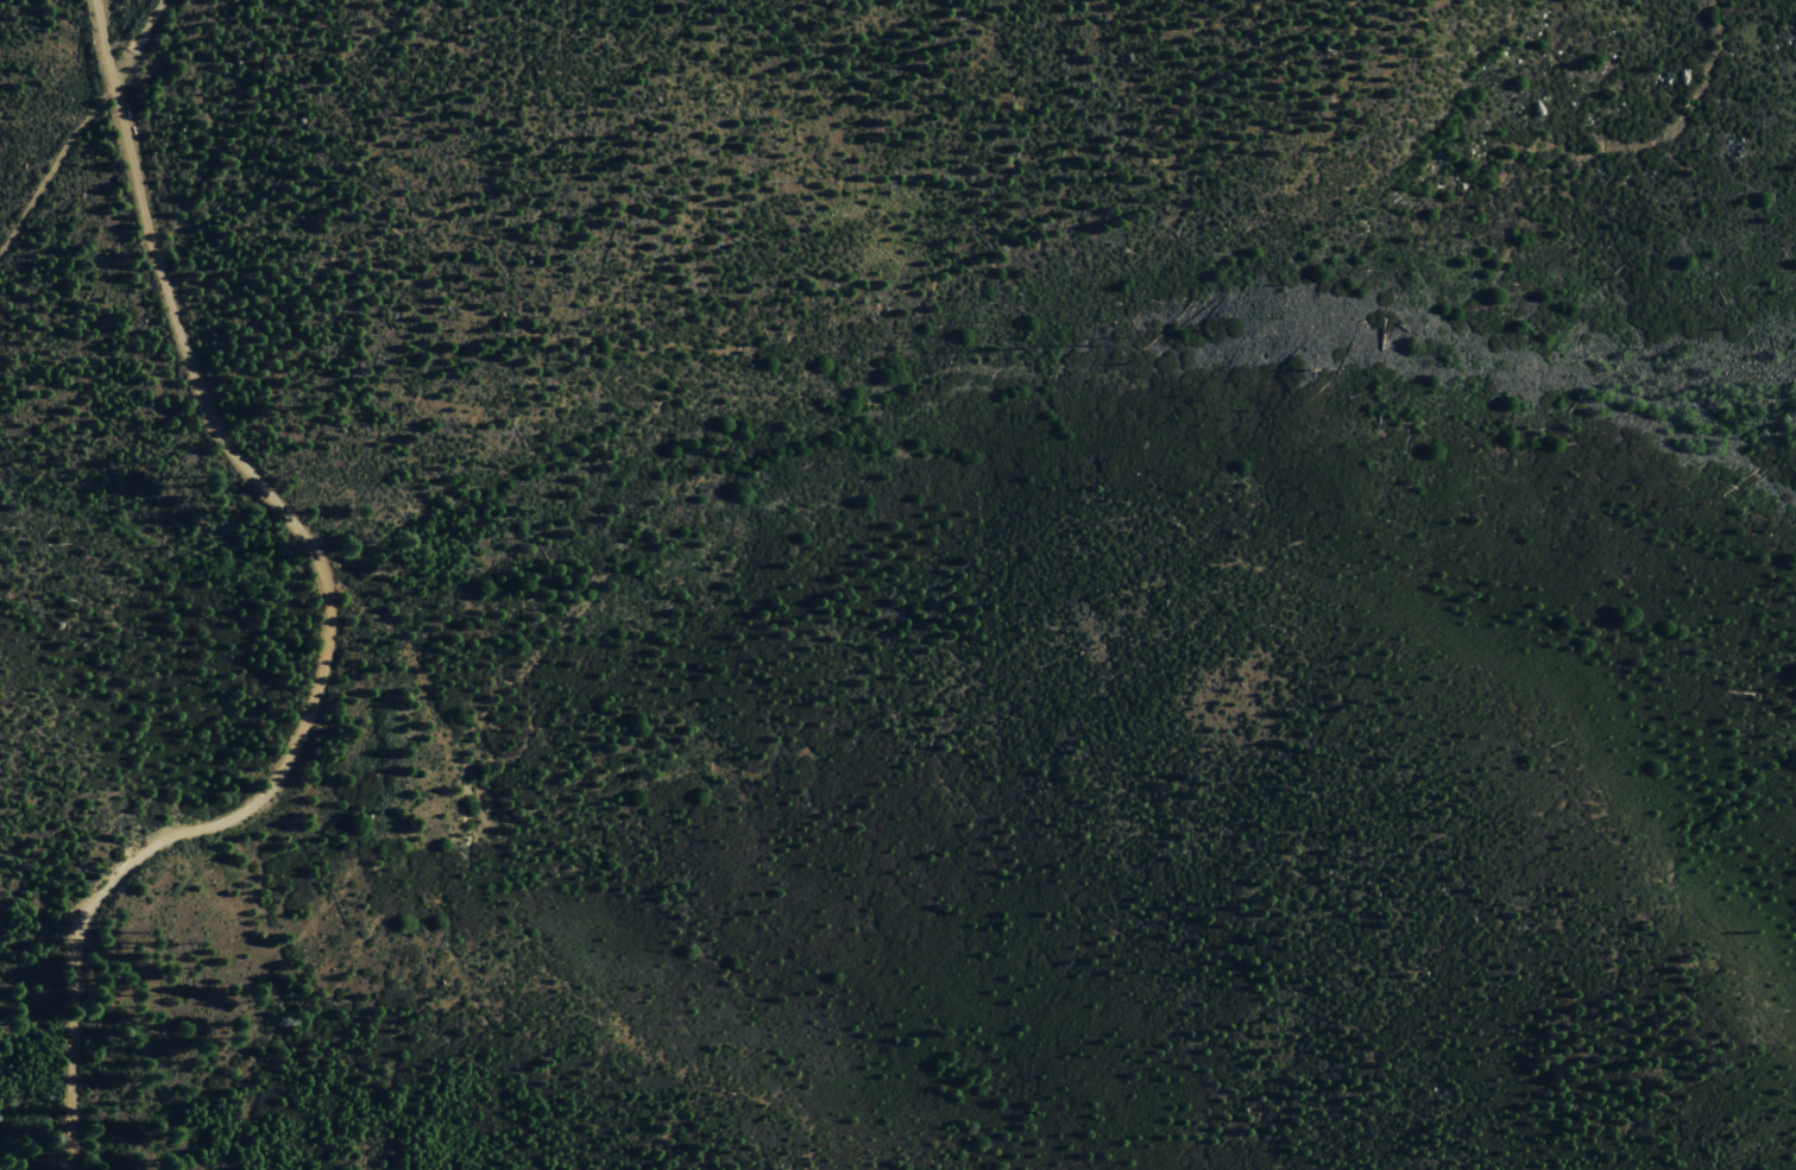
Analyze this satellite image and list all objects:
road: (88, 134)
road: (328, 618)

